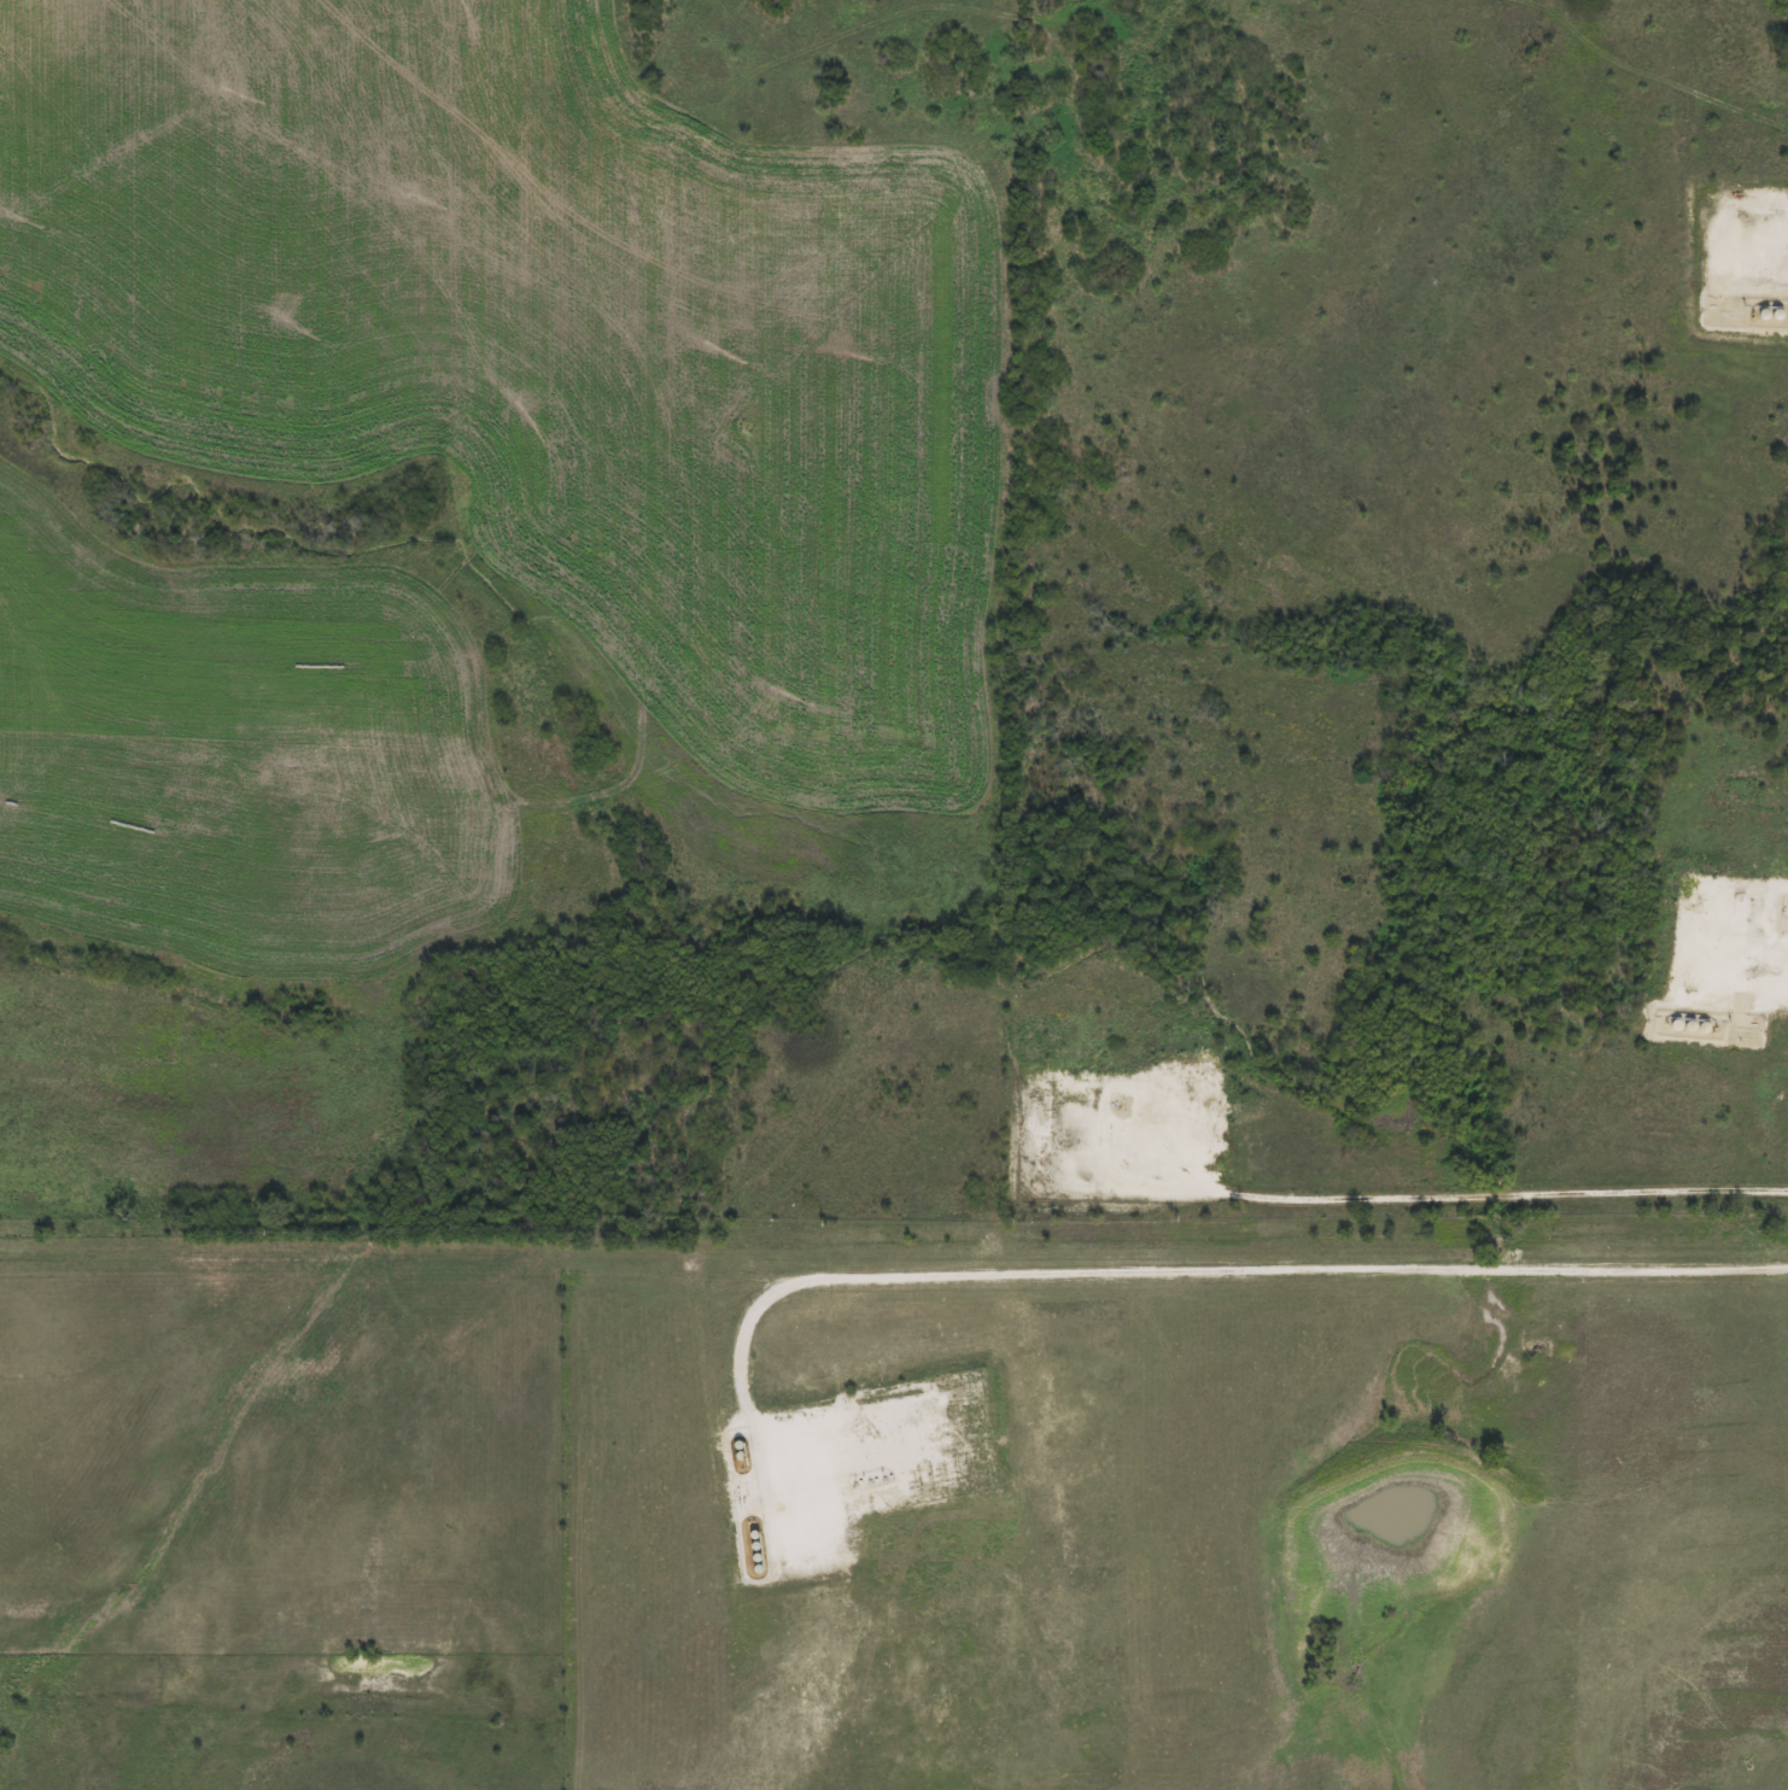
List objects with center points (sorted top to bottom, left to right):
building: (1769, 314)
road: (1064, 831)
road: (1216, 1270)

